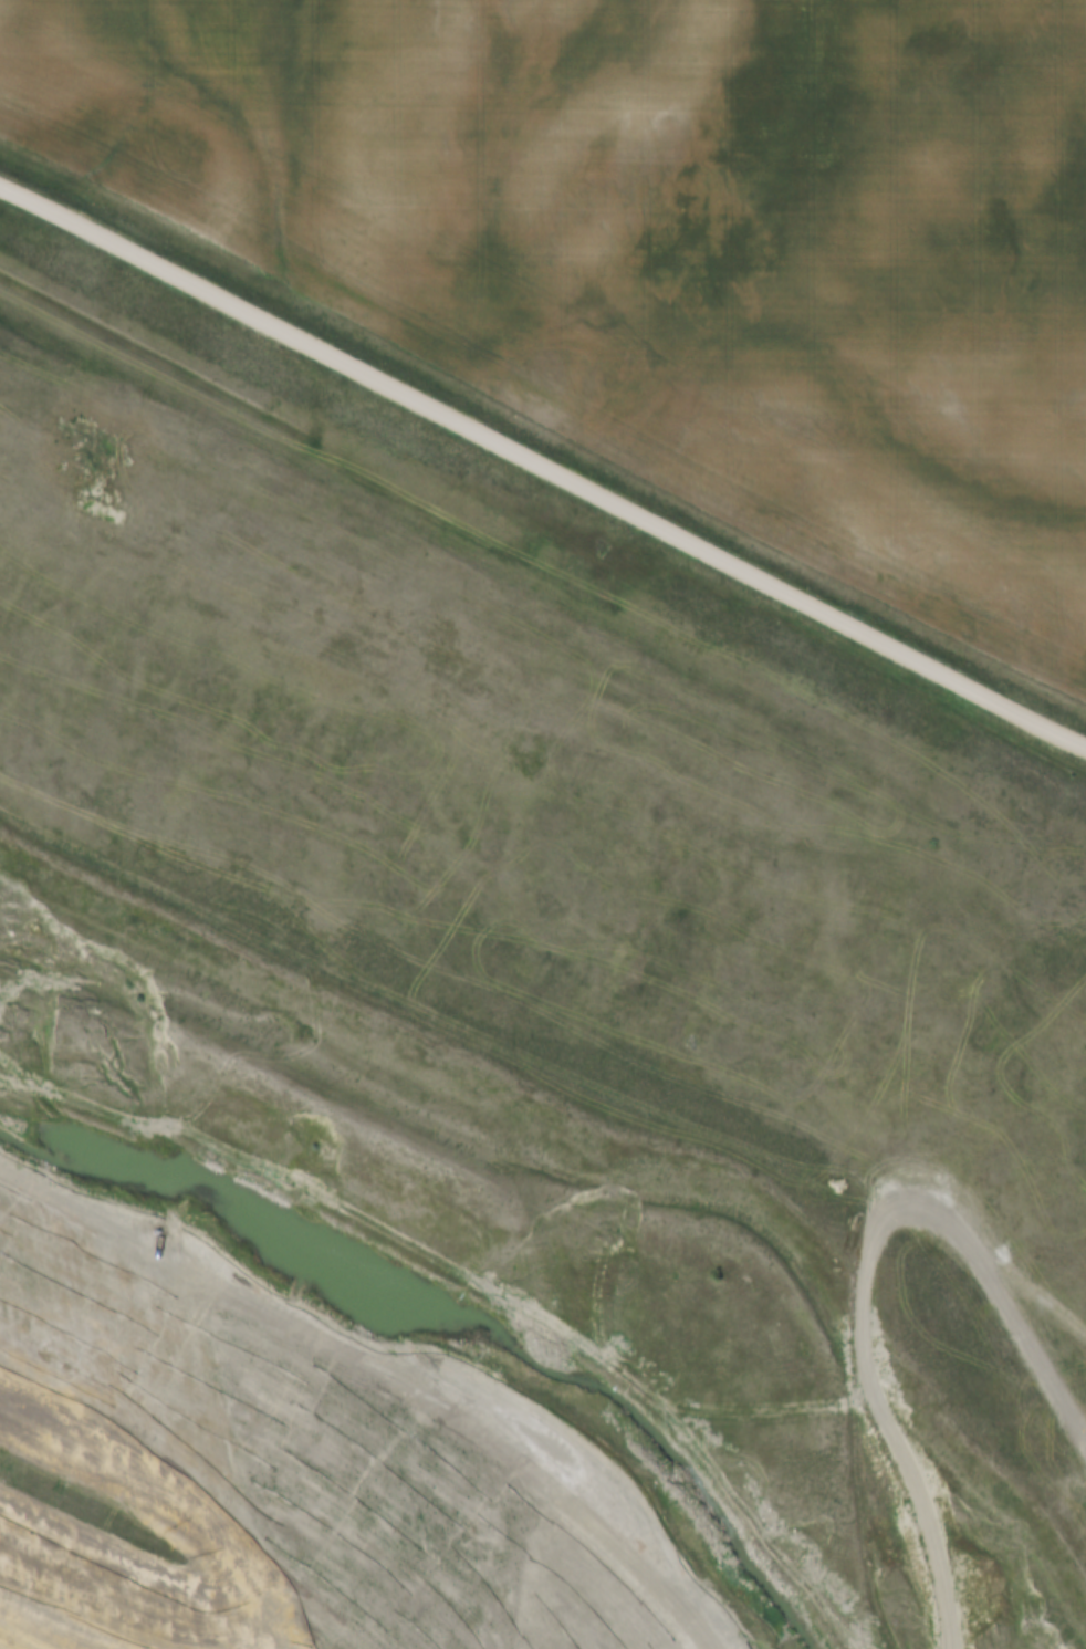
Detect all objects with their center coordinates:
road: (544, 463)
road: (854, 1424)

